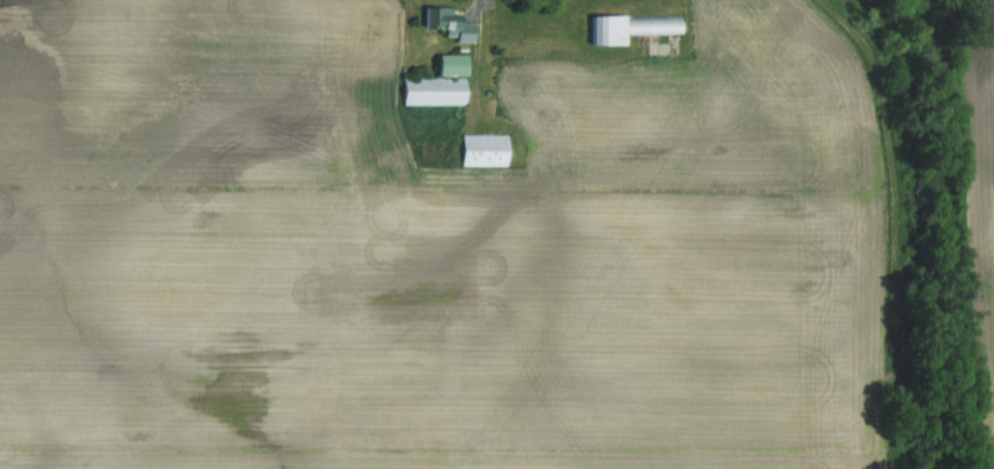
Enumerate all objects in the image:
building: (448, 24)
building: (438, 83)
building: (484, 149)

